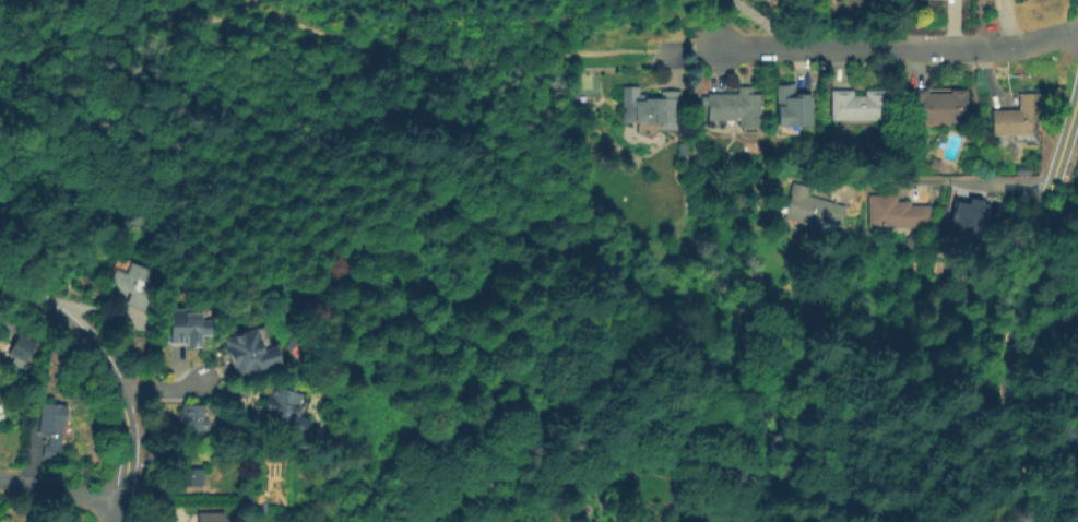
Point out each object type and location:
road: (869, 48)
road: (454, 61)
building: (793, 100)
building: (857, 104)
building: (649, 105)
building: (734, 105)
building: (936, 105)
building: (1015, 115)
building: (1019, 169)
road: (948, 179)
building: (810, 207)
building: (896, 212)
building: (967, 220)
building: (122, 281)
road: (1012, 310)
building: (188, 323)
building: (24, 344)
building: (250, 349)
road: (97, 372)
road: (155, 390)
building: (284, 412)
building: (194, 419)
building: (47, 428)
building: (1069, 439)
building: (176, 460)
building: (189, 476)
road: (57, 490)
road: (111, 512)
building: (209, 515)

